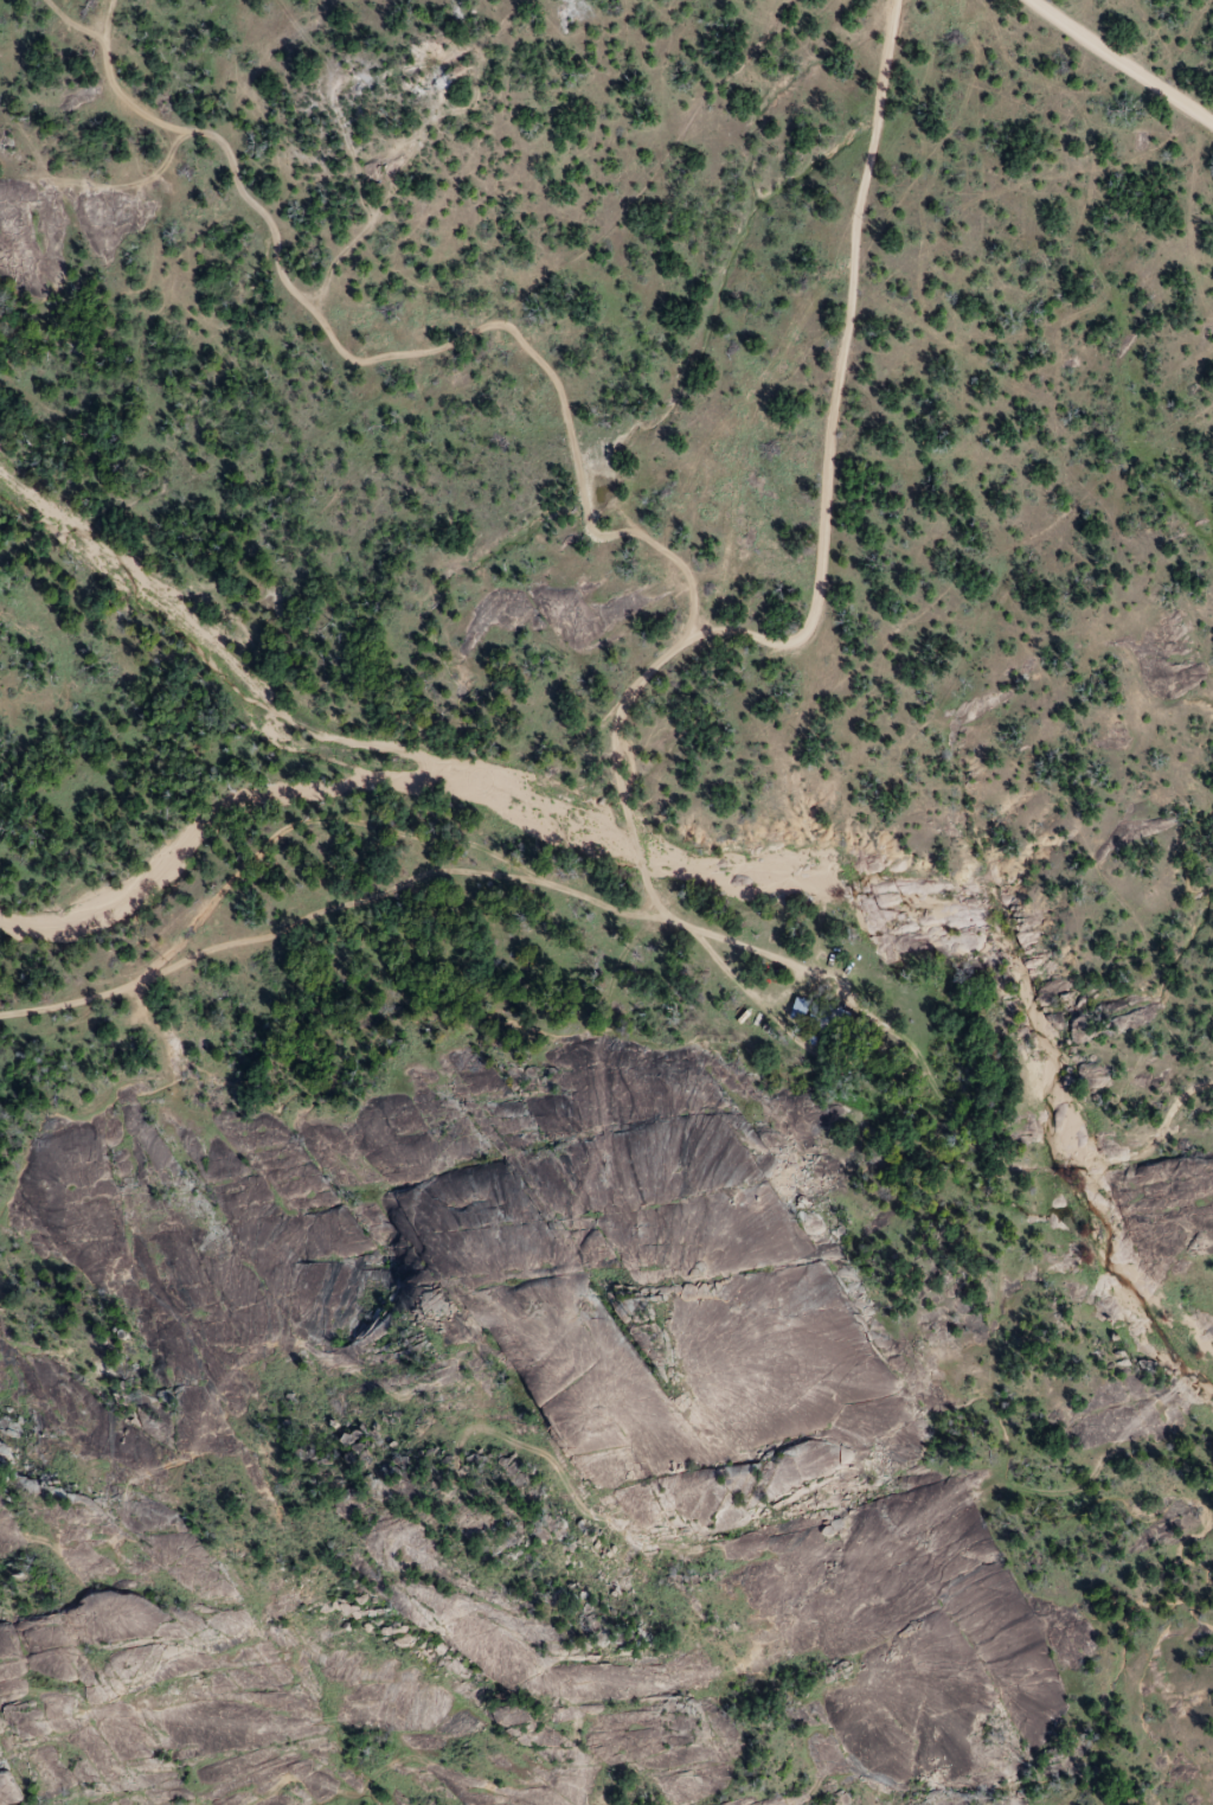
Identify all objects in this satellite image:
road: (1122, 62)
building: (800, 1011)
building: (829, 1024)

